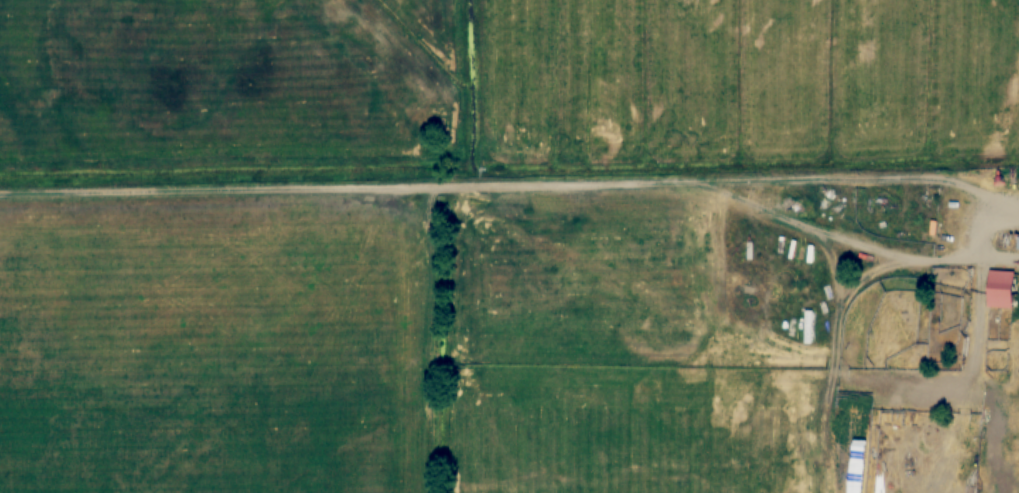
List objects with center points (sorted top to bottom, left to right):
building: (1000, 289)

